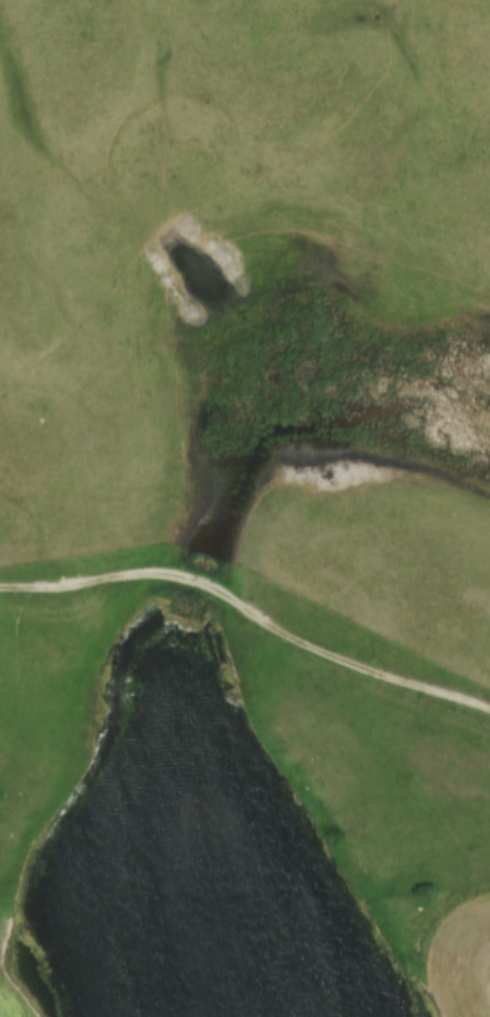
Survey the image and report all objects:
road: (249, 614)

